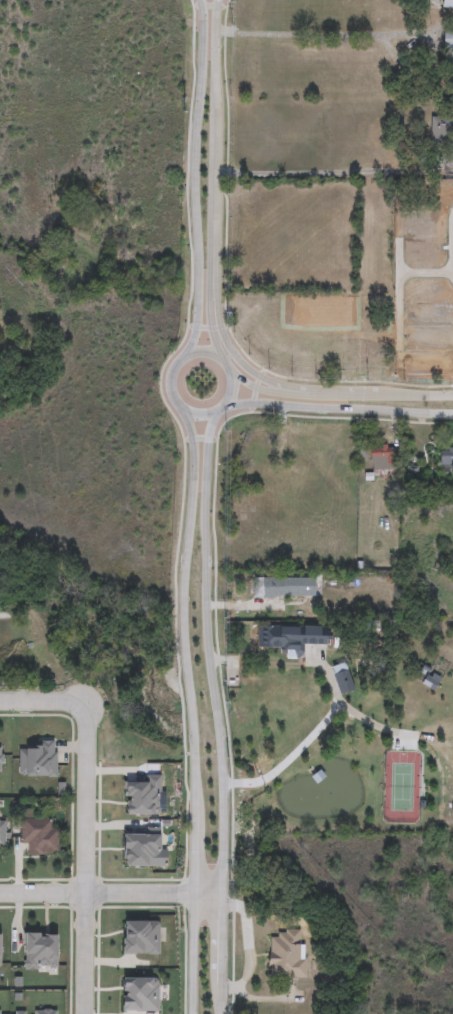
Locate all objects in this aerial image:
building: (446, 4)
road: (317, 36)
building: (448, 47)
road: (214, 58)
road: (319, 162)
road: (193, 181)
road: (212, 186)
road: (208, 309)
road: (226, 343)
road: (339, 394)
road: (337, 408)
road: (199, 414)
building: (255, 454)
building: (377, 458)
building: (446, 461)
building: (283, 588)
building: (292, 637)
road: (207, 651)
road: (321, 668)
road: (46, 702)
road: (190, 706)
road: (290, 758)
building: (2, 760)
building: (39, 761)
building: (1, 836)
building: (41, 836)
road: (86, 866)
road: (110, 893)
road: (220, 938)
building: (286, 956)
road: (220, 998)
building: (1, 1012)

